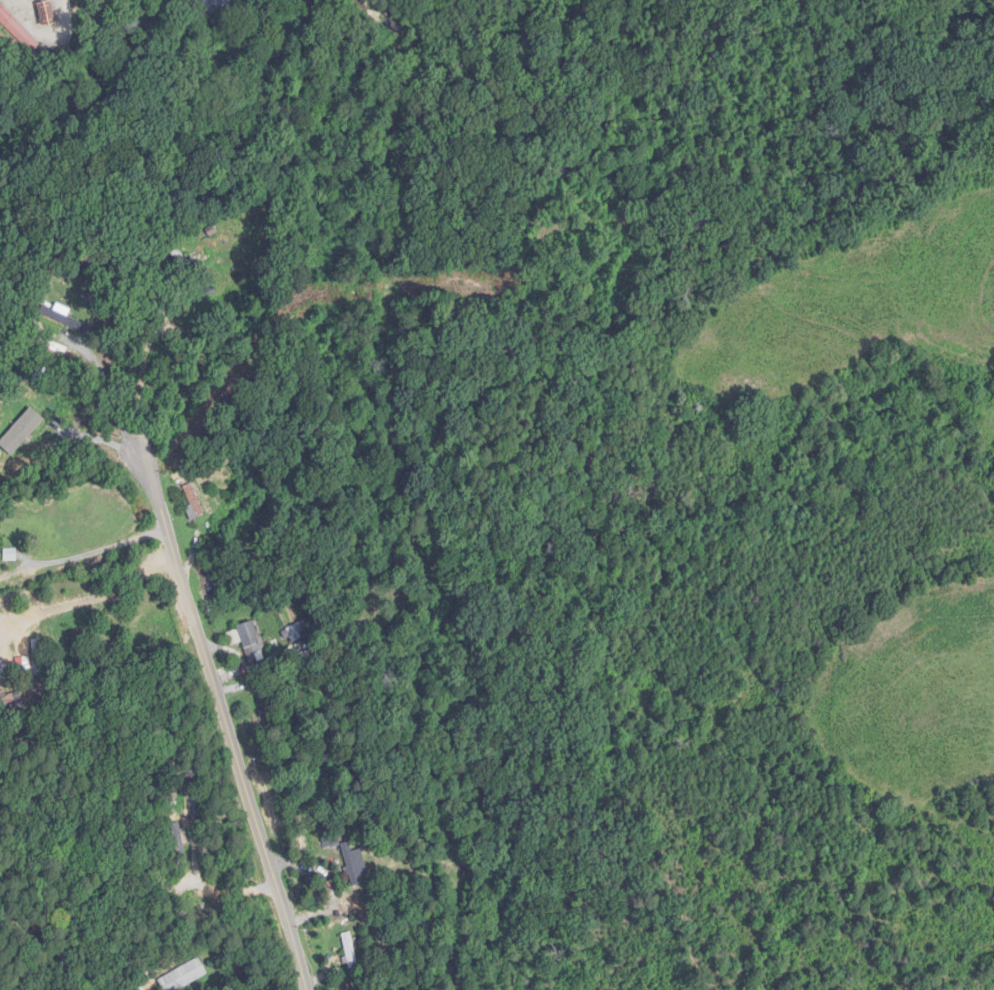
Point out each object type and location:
building: (188, 267)
road: (110, 396)
road: (98, 438)
building: (194, 504)
road: (98, 550)
building: (252, 642)
building: (25, 663)
road: (220, 703)
building: (179, 841)
building: (350, 949)
building: (184, 975)

